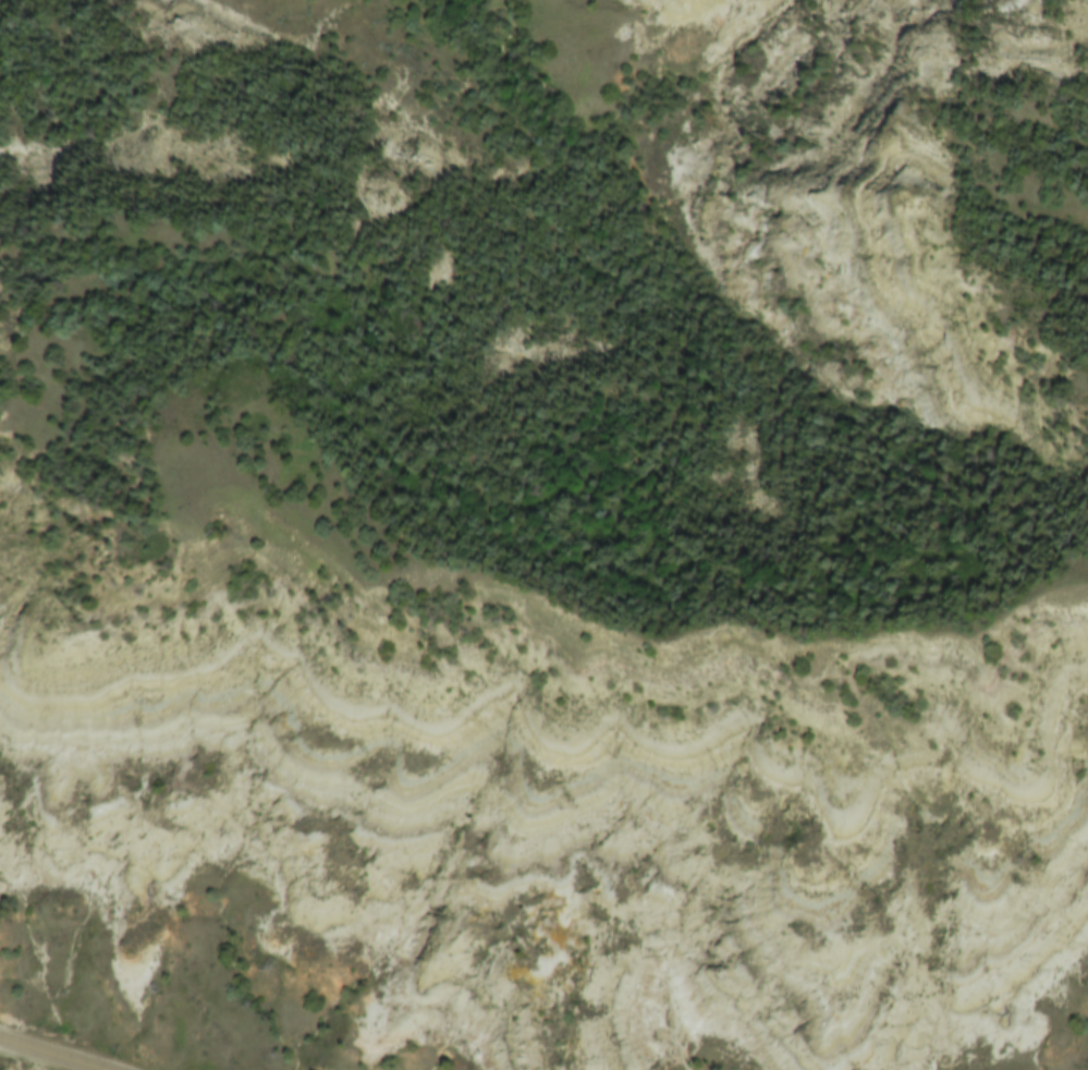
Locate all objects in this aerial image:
road: (49, 1057)

